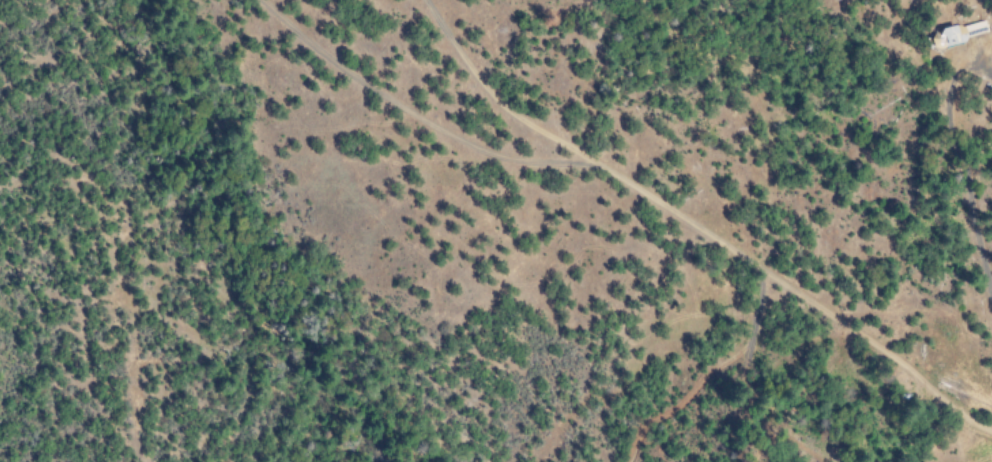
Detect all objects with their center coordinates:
building: (956, 32)

